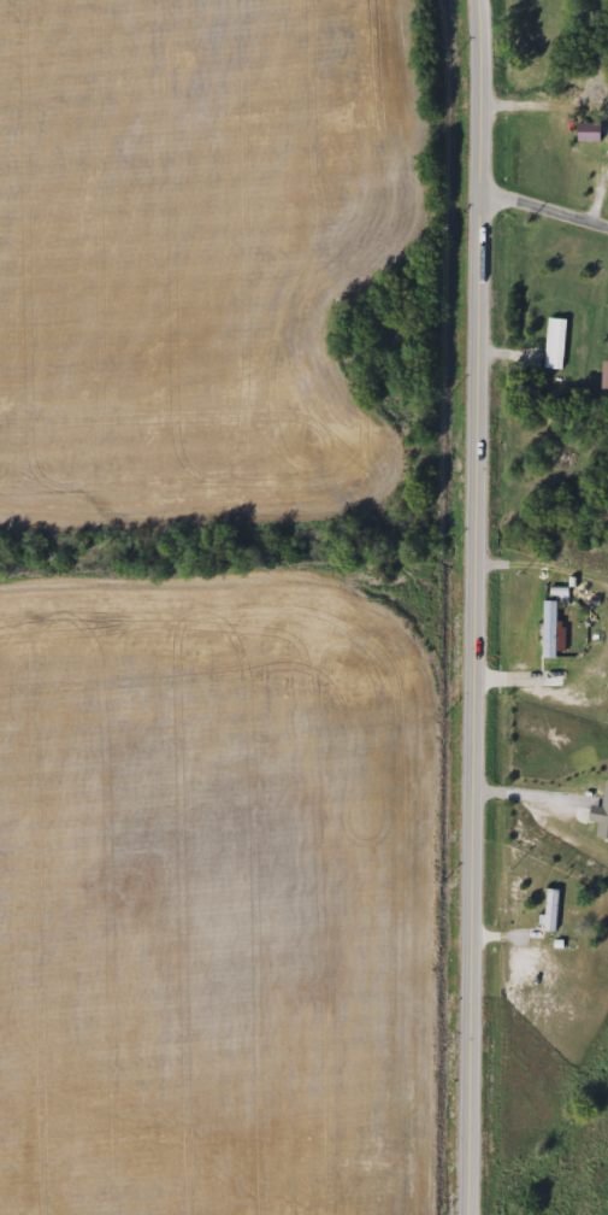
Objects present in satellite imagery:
road: (542, 209)
building: (555, 345)
road: (474, 607)
building: (553, 632)
road: (514, 679)
road: (530, 796)
building: (554, 910)

